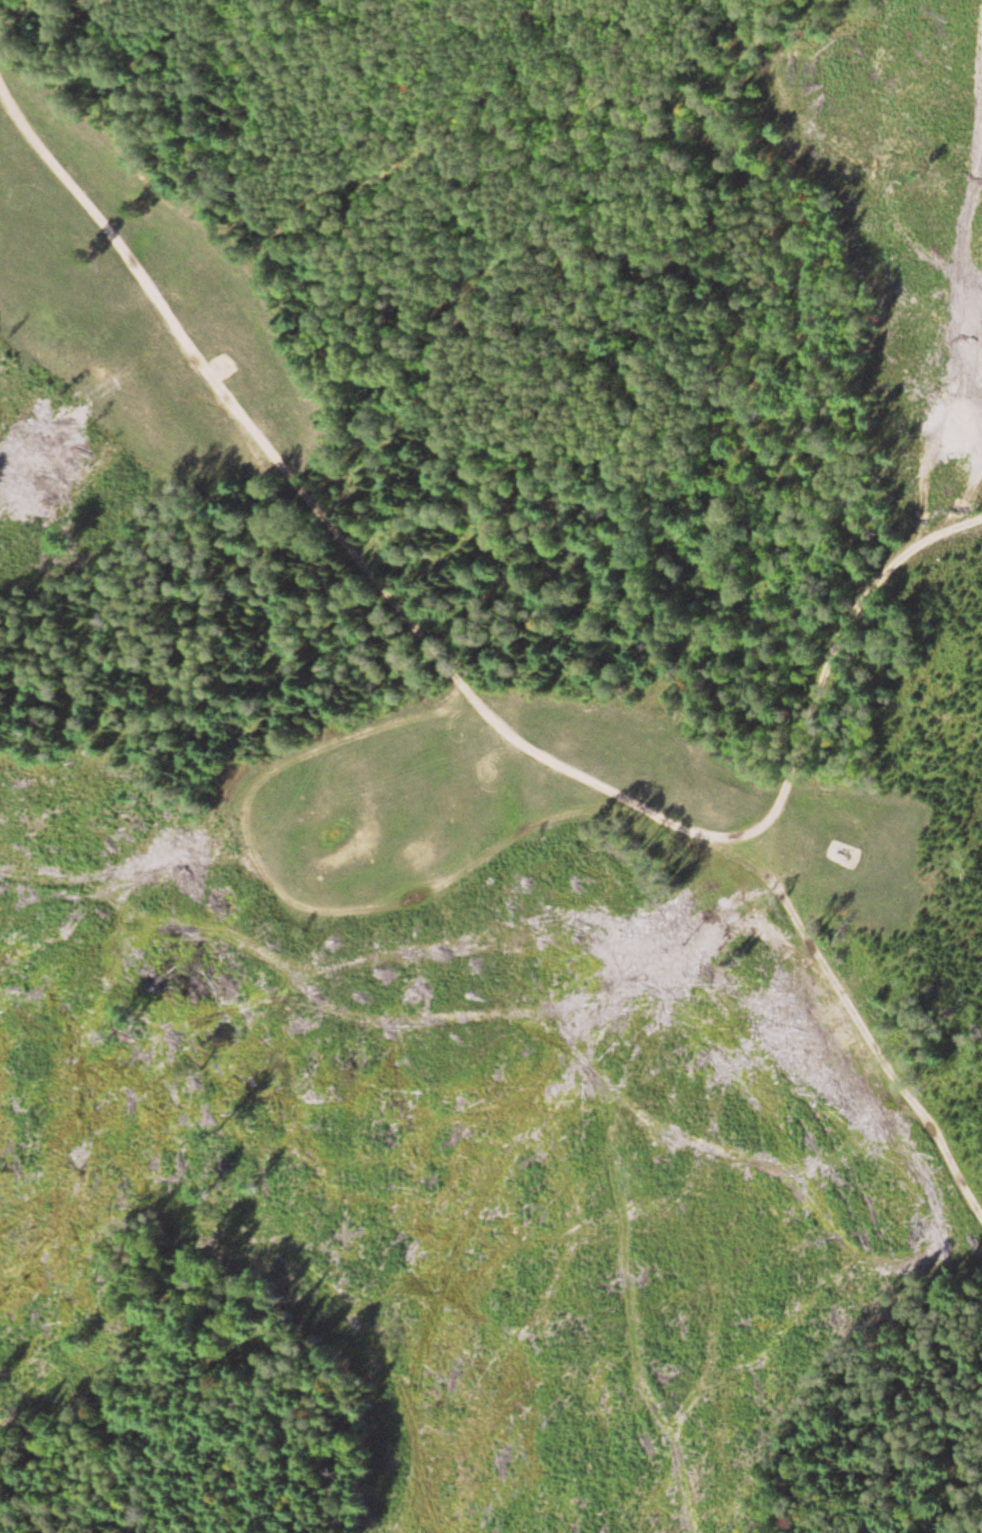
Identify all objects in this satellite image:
road: (462, 674)
road: (860, 1024)

